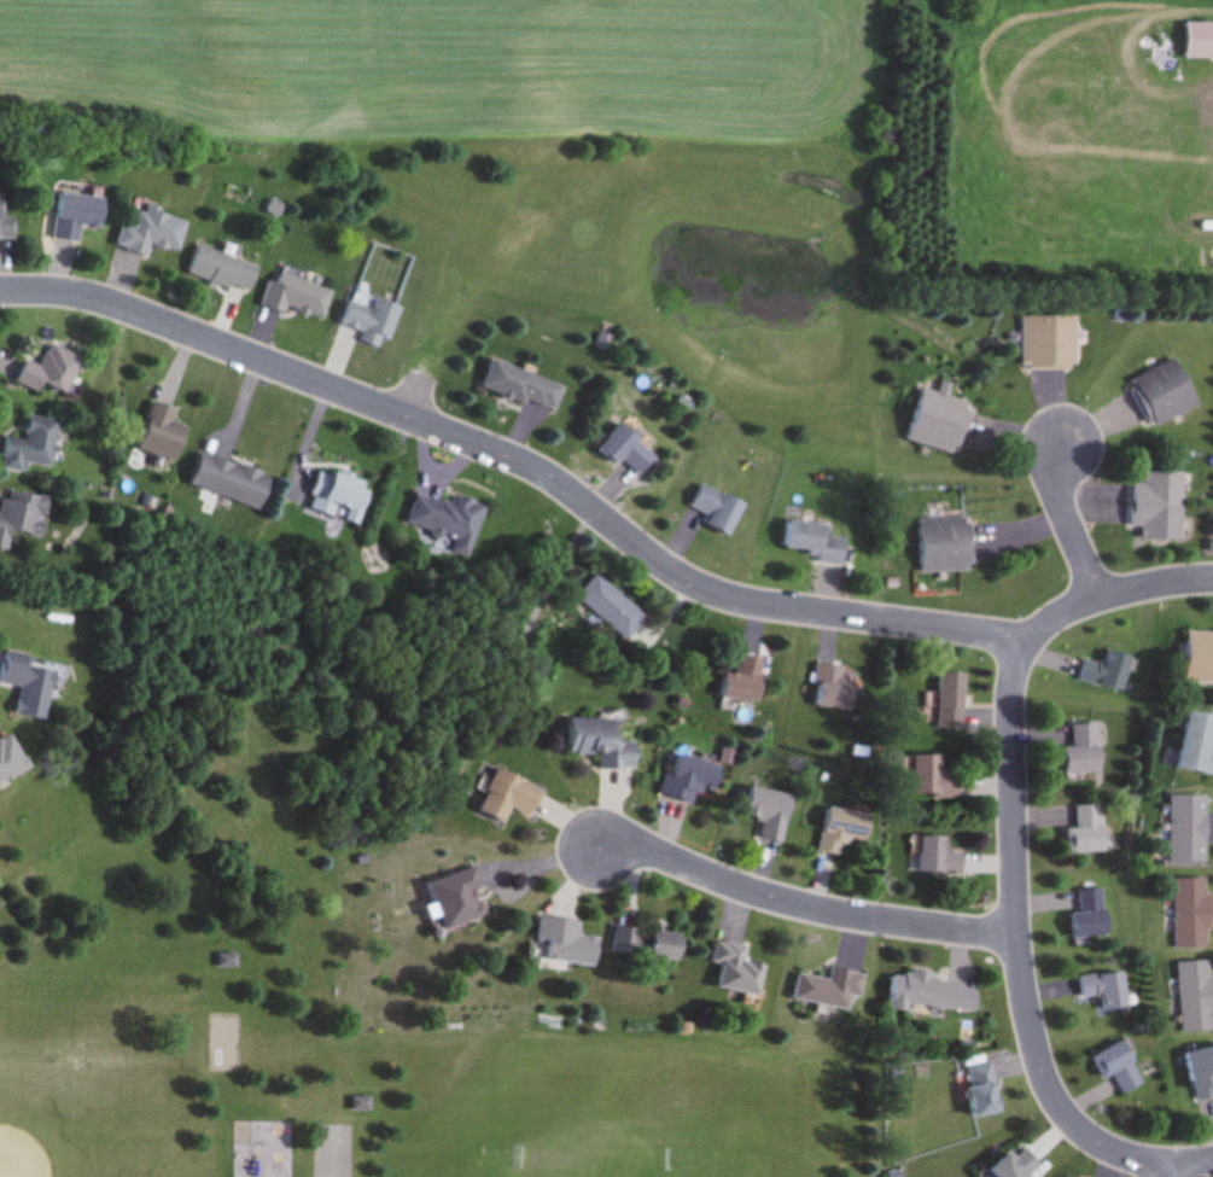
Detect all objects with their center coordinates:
building: (1195, 41)
crop: (447, 74)
building: (80, 216)
building: (7, 220)
building: (154, 233)
building: (226, 270)
park: (765, 289)
building: (299, 296)
building: (374, 321)
building: (1052, 342)
building: (54, 372)
building: (527, 386)
building: (1166, 392)
building: (944, 421)
building: (164, 435)
building: (33, 443)
building: (632, 451)
road: (520, 461)
building: (339, 496)
building: (1162, 506)
building: (722, 508)
building: (22, 517)
building: (449, 520)
road: (1069, 523)
building: (816, 541)
building: (950, 546)
building: (653, 558)
building: (614, 608)
building: (1200, 658)
building: (1110, 671)
building: (746, 681)
building: (30, 684)
building: (838, 688)
building: (956, 701)
building: (606, 742)
building: (1197, 745)
building: (1086, 751)
building: (13, 759)
building: (938, 777)
building: (692, 779)
building: (512, 797)
building: (769, 812)
building: (847, 829)
building: (1190, 829)
building: (1091, 831)
road: (1014, 844)
building: (944, 856)
building: (460, 898)
road: (801, 905)
building: (1194, 914)
building: (1096, 915)
building: (570, 944)
building: (652, 944)
park: (326, 946)
building: (739, 969)
building: (834, 987)
building: (1109, 990)
building: (937, 994)
building: (1197, 996)
building: (1122, 1068)
building: (1202, 1072)
building: (990, 1090)
road: (1196, 1161)
building: (1020, 1164)
road: (1154, 1169)
road: (1179, 1169)

